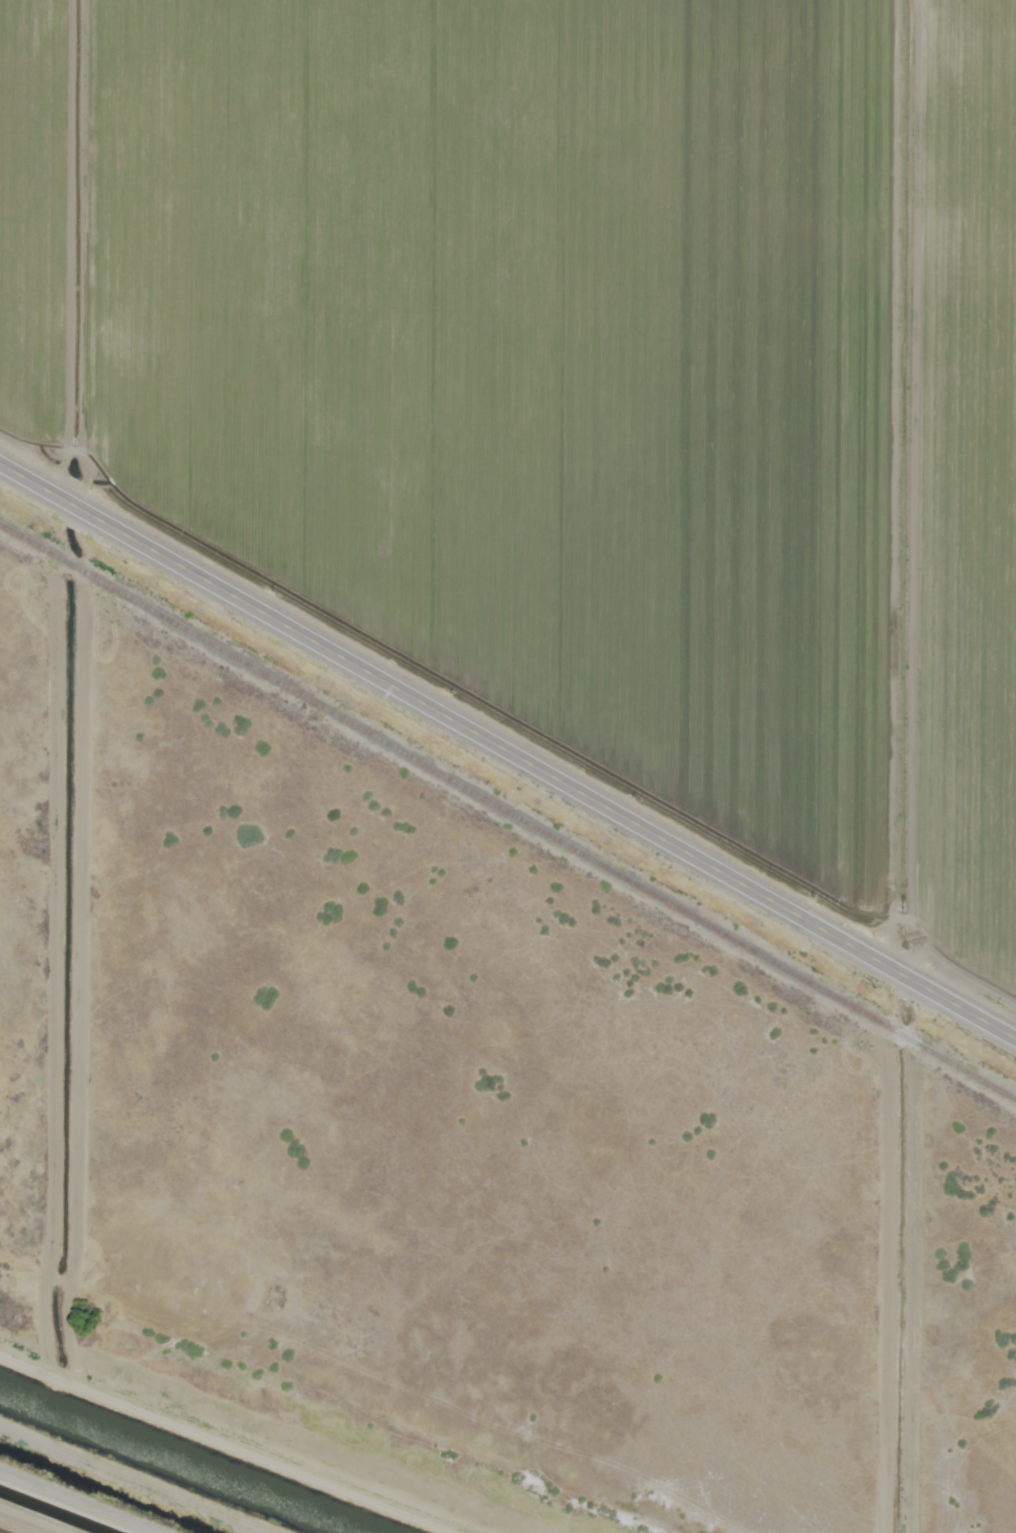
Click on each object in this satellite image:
crop: (576, 381)
road: (508, 748)
railway: (508, 813)
road: (301, 1415)
road: (61, 1508)

